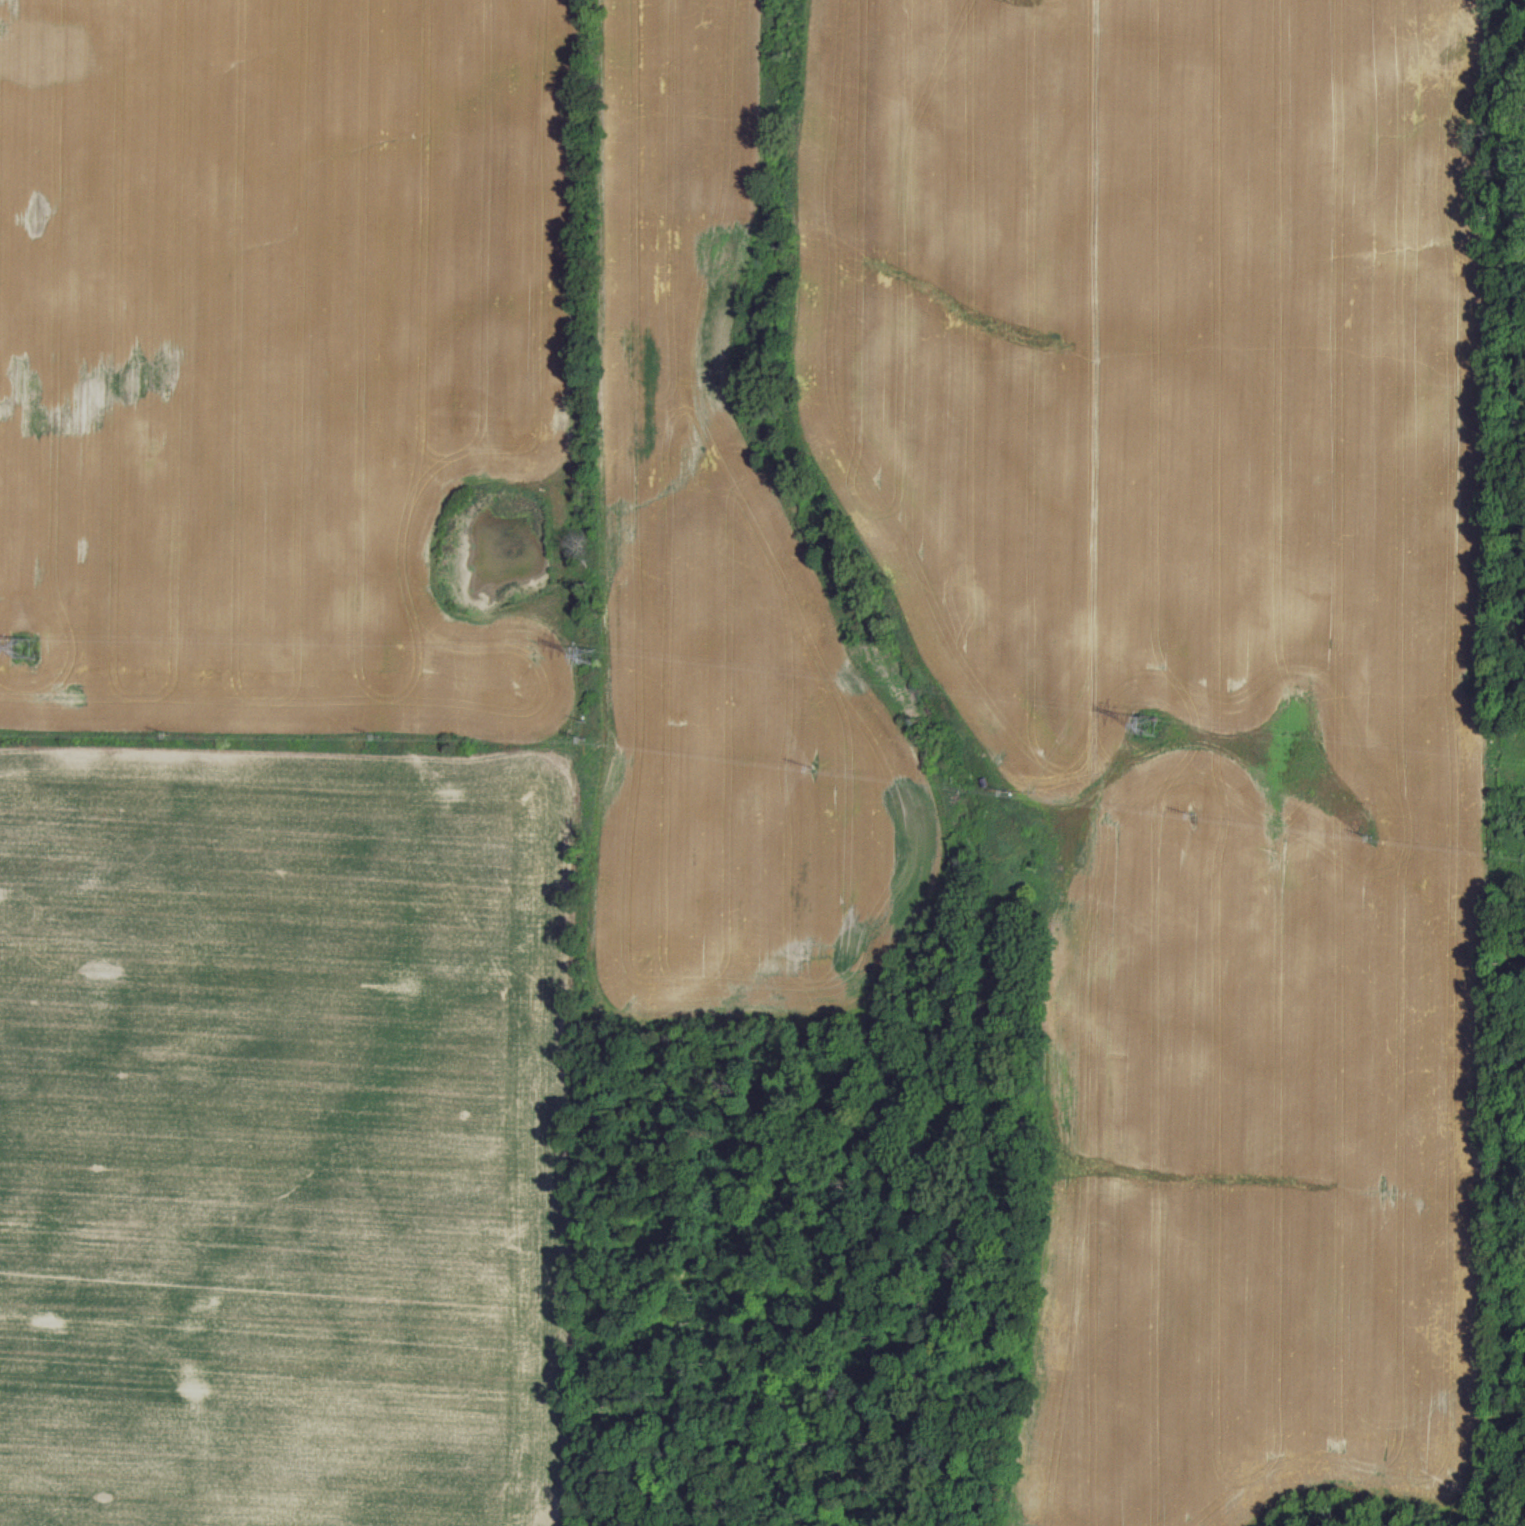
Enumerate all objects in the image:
power tower: (27, 647)
power tower: (584, 655)
power tower: (1143, 723)
crop: (762, 763)

